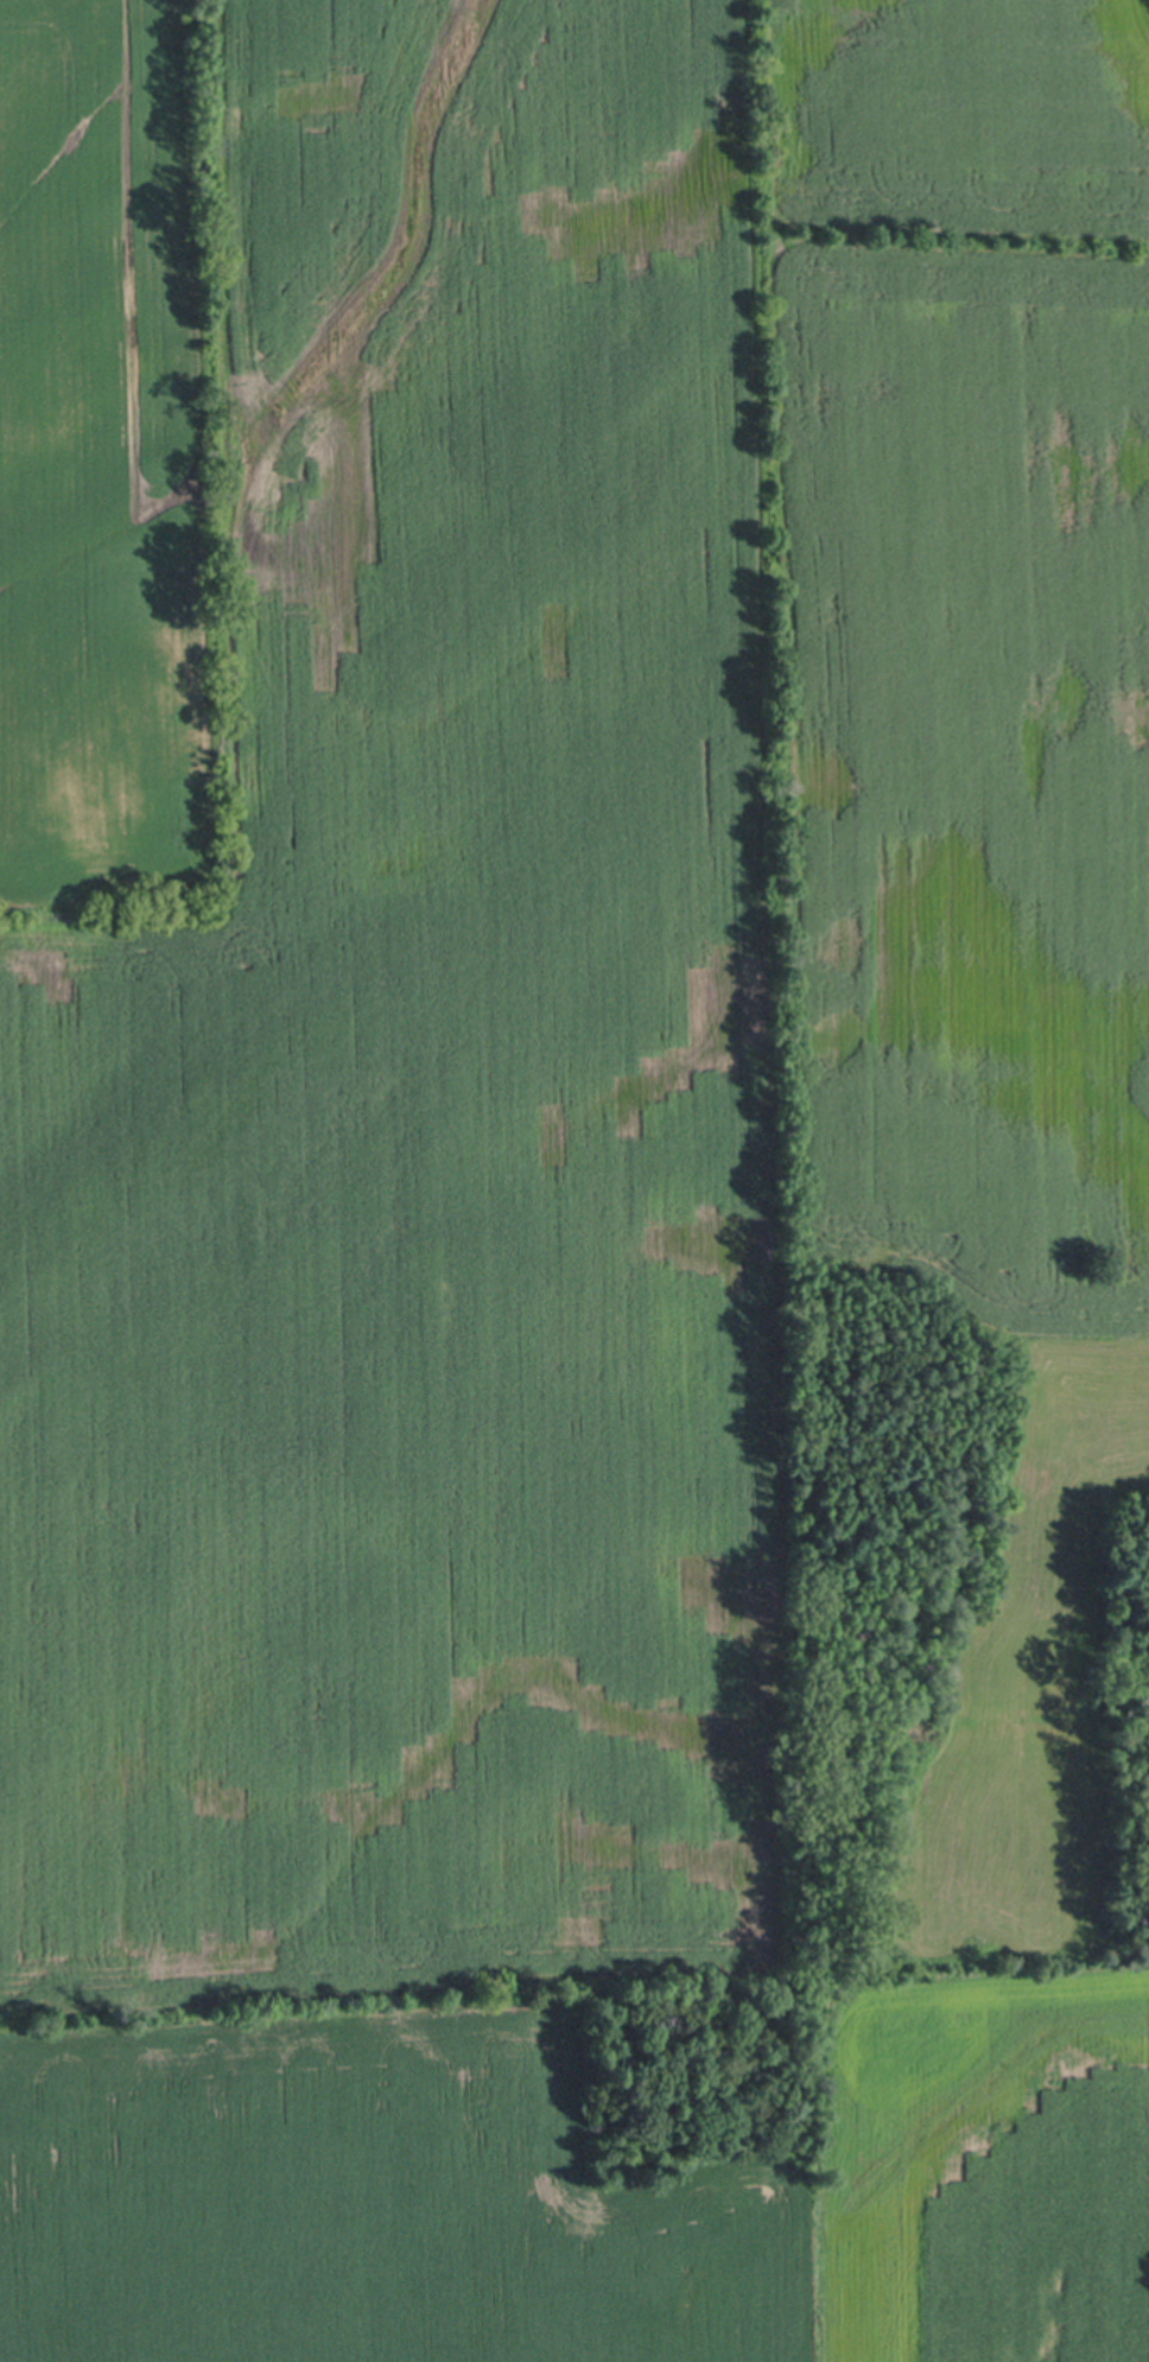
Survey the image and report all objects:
crop: (583, 1200)

